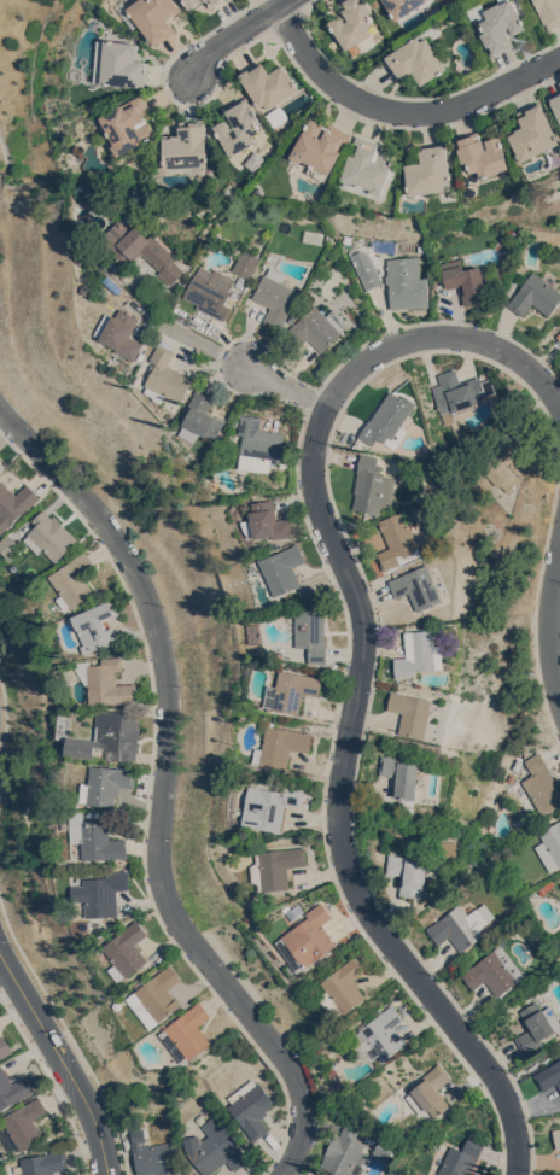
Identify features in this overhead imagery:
building: (206, 0)
building: (192, 2)
building: (215, 2)
building: (403, 6)
building: (549, 12)
building: (152, 17)
building: (354, 24)
building: (498, 24)
road: (235, 33)
building: (419, 57)
building: (121, 64)
building: (270, 89)
building: (556, 103)
road: (402, 110)
building: (129, 124)
building: (239, 127)
building: (533, 133)
building: (187, 146)
building: (269, 146)
building: (320, 146)
building: (484, 154)
building: (368, 166)
building: (430, 170)
building: (220, 189)
building: (313, 236)
building: (421, 247)
building: (141, 249)
building: (82, 258)
building: (245, 263)
building: (366, 265)
building: (122, 273)
building: (466, 280)
building: (240, 281)
building: (406, 283)
building: (89, 288)
building: (210, 291)
building: (234, 293)
building: (536, 294)
building: (274, 297)
building: (292, 317)
building: (319, 327)
building: (123, 333)
building: (559, 335)
road: (439, 337)
road: (204, 344)
building: (168, 376)
road: (290, 387)
building: (459, 392)
building: (203, 416)
building: (389, 420)
building: (261, 445)
building: (1, 466)
building: (498, 467)
building: (373, 486)
building: (14, 504)
building: (269, 522)
building: (51, 536)
building: (399, 540)
building: (11, 544)
building: (285, 569)
building: (75, 580)
building: (419, 586)
road: (554, 616)
building: (97, 626)
building: (311, 632)
building: (420, 653)
building: (107, 682)
building: (292, 690)
building: (413, 713)
road: (2, 725)
building: (106, 735)
building: (281, 746)
building: (517, 764)
building: (402, 773)
building: (107, 784)
building: (538, 785)
road: (164, 790)
building: (270, 806)
road: (337, 809)
building: (98, 837)
building: (550, 846)
building: (275, 867)
building: (408, 873)
building: (546, 884)
building: (104, 893)
building: (296, 911)
building: (84, 924)
building: (461, 925)
building: (309, 939)
building: (127, 951)
building: (495, 971)
building: (343, 987)
building: (157, 996)
building: (119, 1004)
building: (536, 1025)
building: (188, 1033)
road: (69, 1035)
building: (380, 1035)
building: (5, 1047)
road: (62, 1062)
building: (549, 1075)
building: (13, 1088)
building: (430, 1093)
building: (251, 1107)
building: (27, 1126)
building: (556, 1136)
building: (215, 1147)
building: (385, 1148)
building: (346, 1152)
building: (152, 1156)
building: (461, 1158)
building: (45, 1163)

